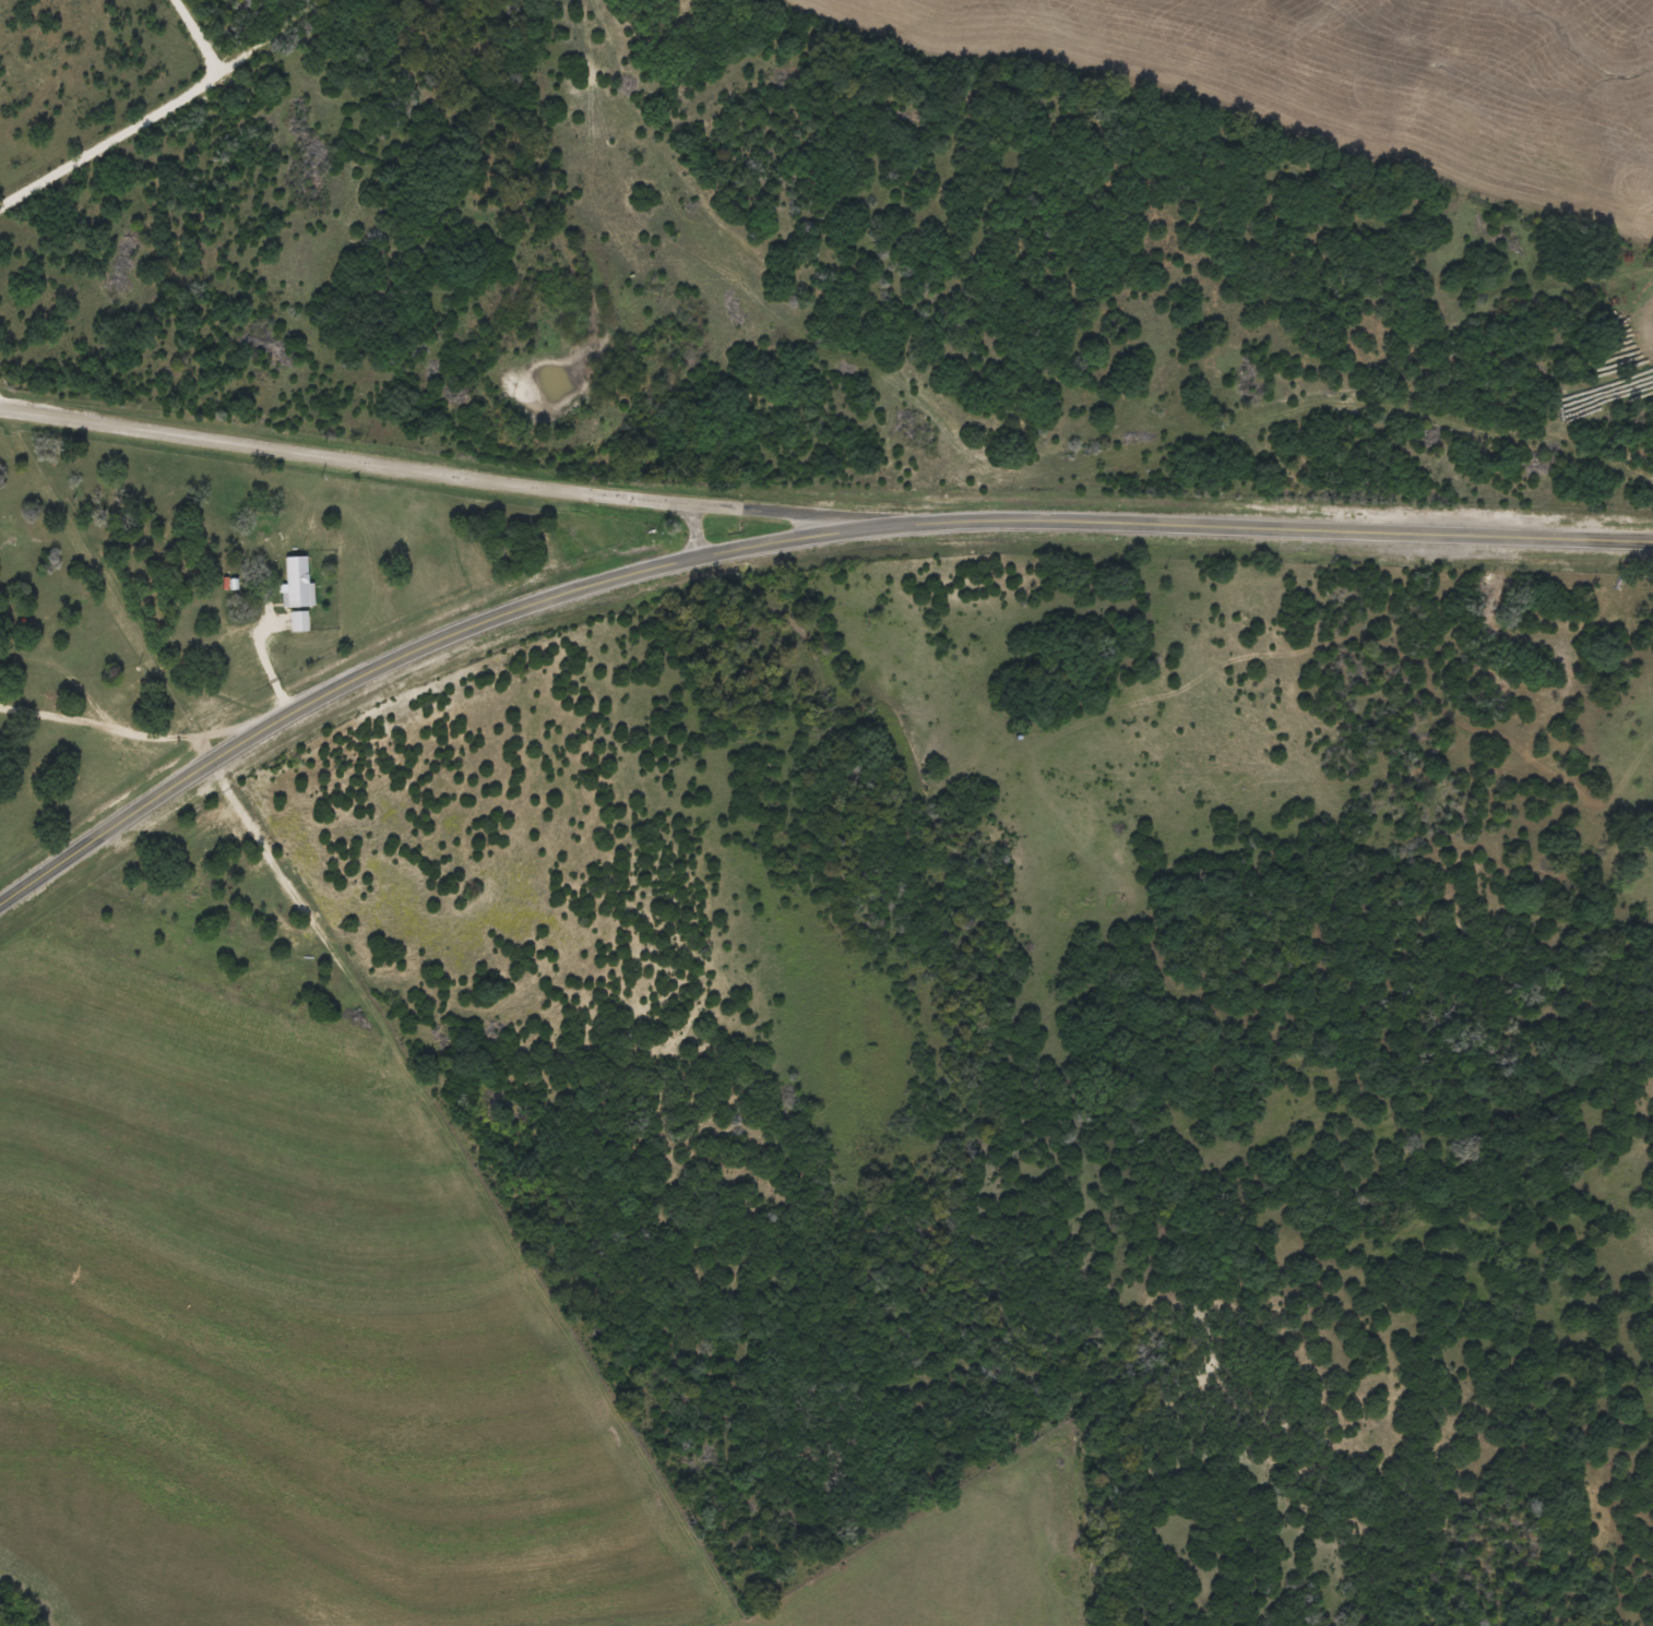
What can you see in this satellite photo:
road: (473, 476)
road: (782, 545)
road: (116, 582)
road: (88, 681)
road: (963, 1050)

